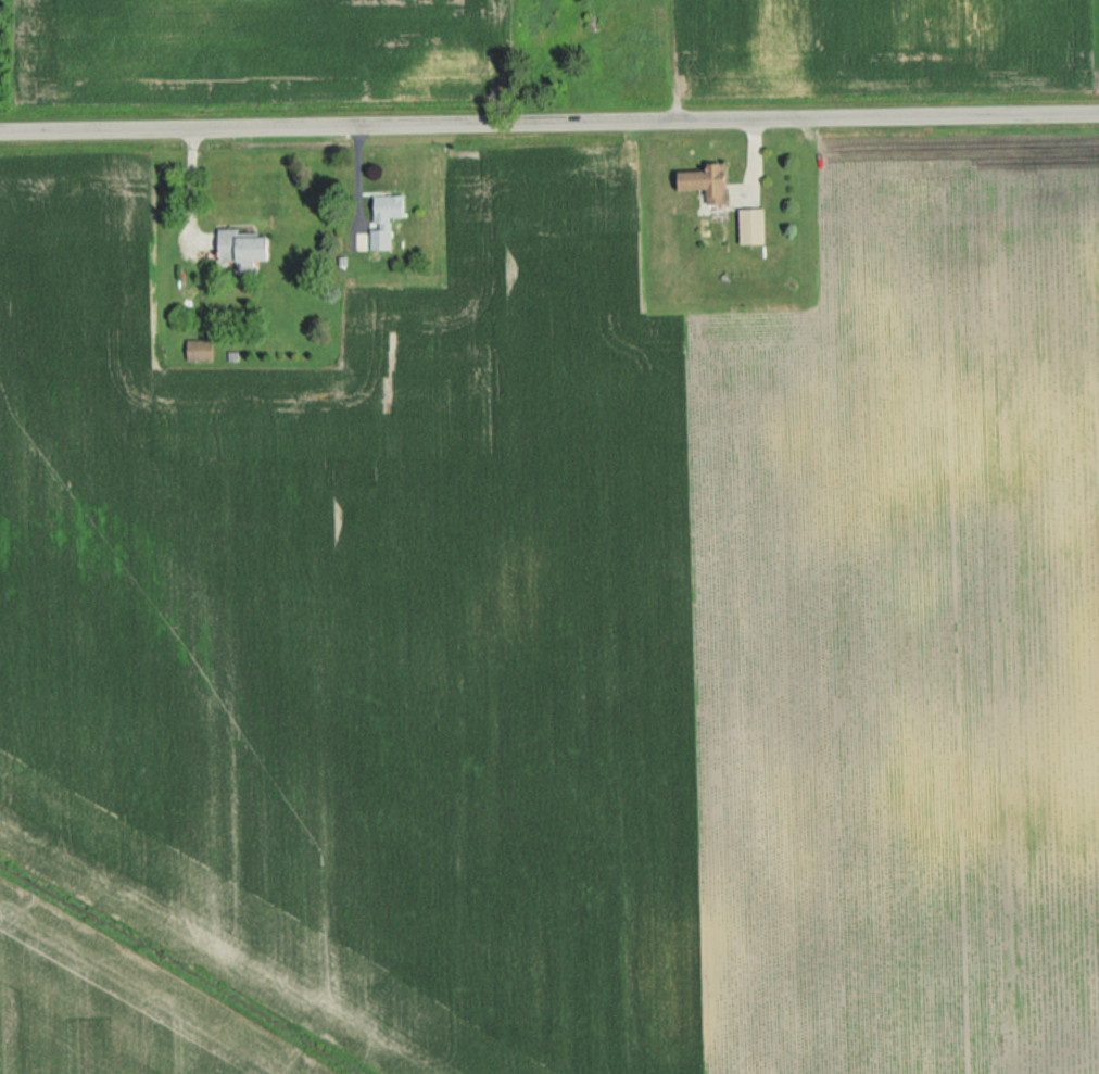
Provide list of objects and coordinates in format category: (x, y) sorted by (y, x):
road: (548, 121)
building: (697, 182)
road: (192, 185)
building: (388, 207)
building: (744, 226)
building: (247, 250)
building: (200, 350)

